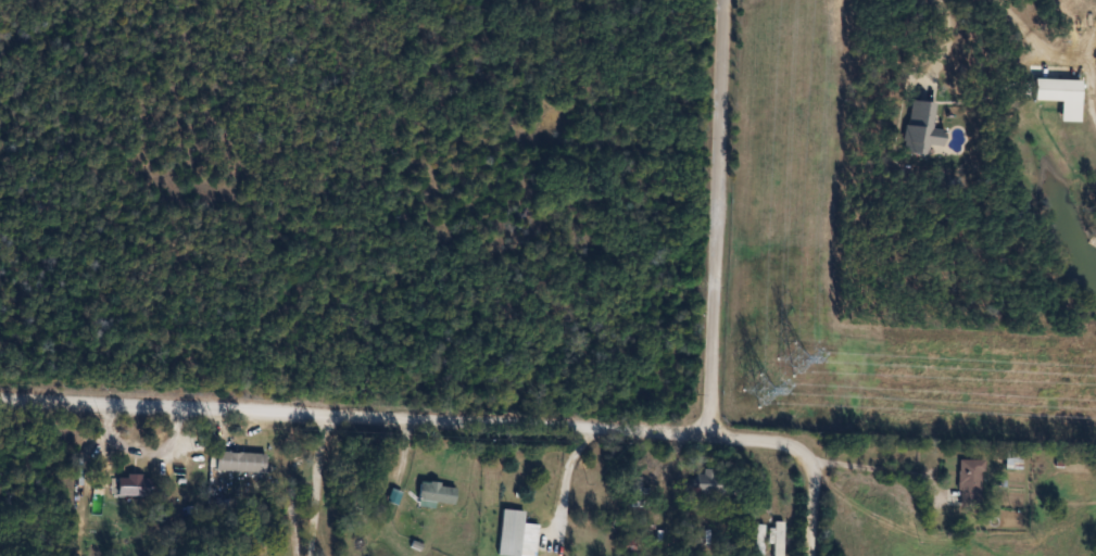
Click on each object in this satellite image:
road: (1020, 27)
road: (952, 37)
road: (718, 218)
power tower: (774, 377)
road: (354, 418)
road: (805, 458)
building: (1011, 460)
building: (239, 462)
road: (880, 467)
road: (568, 481)
building: (708, 482)
building: (969, 482)
building: (134, 484)
road: (308, 485)
building: (436, 493)
building: (509, 532)
building: (758, 540)

